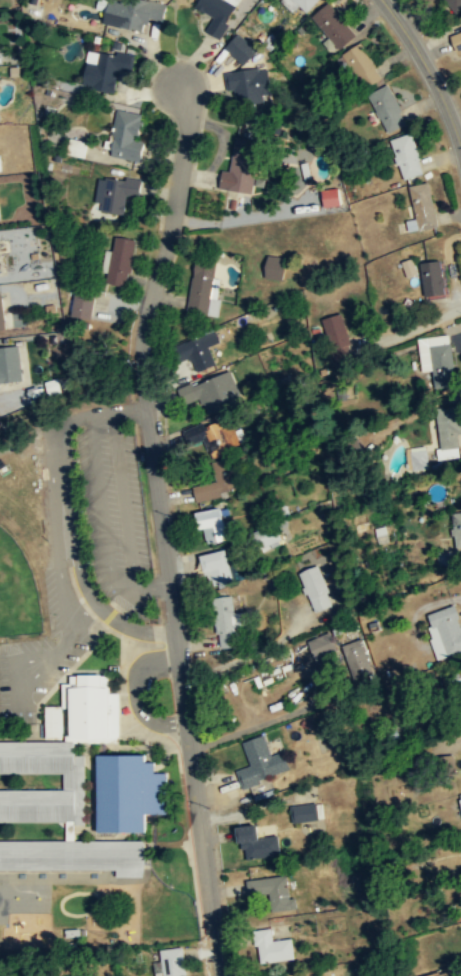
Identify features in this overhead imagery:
building: (457, 2)
building: (298, 4)
building: (132, 13)
building: (216, 14)
building: (333, 26)
building: (456, 41)
building: (239, 48)
building: (361, 66)
building: (105, 70)
road: (428, 71)
building: (248, 83)
building: (387, 109)
building: (127, 136)
building: (406, 157)
building: (241, 167)
building: (116, 194)
building: (328, 197)
building: (421, 207)
building: (120, 261)
building: (275, 266)
building: (407, 267)
building: (432, 278)
building: (203, 287)
building: (82, 304)
building: (1, 314)
building: (338, 337)
building: (198, 351)
building: (436, 354)
building: (9, 365)
building: (213, 394)
building: (448, 428)
building: (215, 438)
building: (416, 457)
building: (212, 489)
road: (161, 526)
building: (212, 526)
building: (456, 528)
building: (267, 537)
building: (217, 567)
building: (316, 589)
park: (16, 590)
building: (227, 623)
building: (444, 632)
building: (318, 646)
parking lot: (43, 650)
building: (355, 657)
building: (87, 708)
building: (50, 721)
building: (259, 763)
building: (70, 780)
building: (128, 791)
building: (459, 802)
building: (300, 811)
building: (257, 844)
building: (75, 854)
building: (271, 893)
building: (272, 948)
building: (171, 963)
building: (437, 974)
building: (287, 975)

